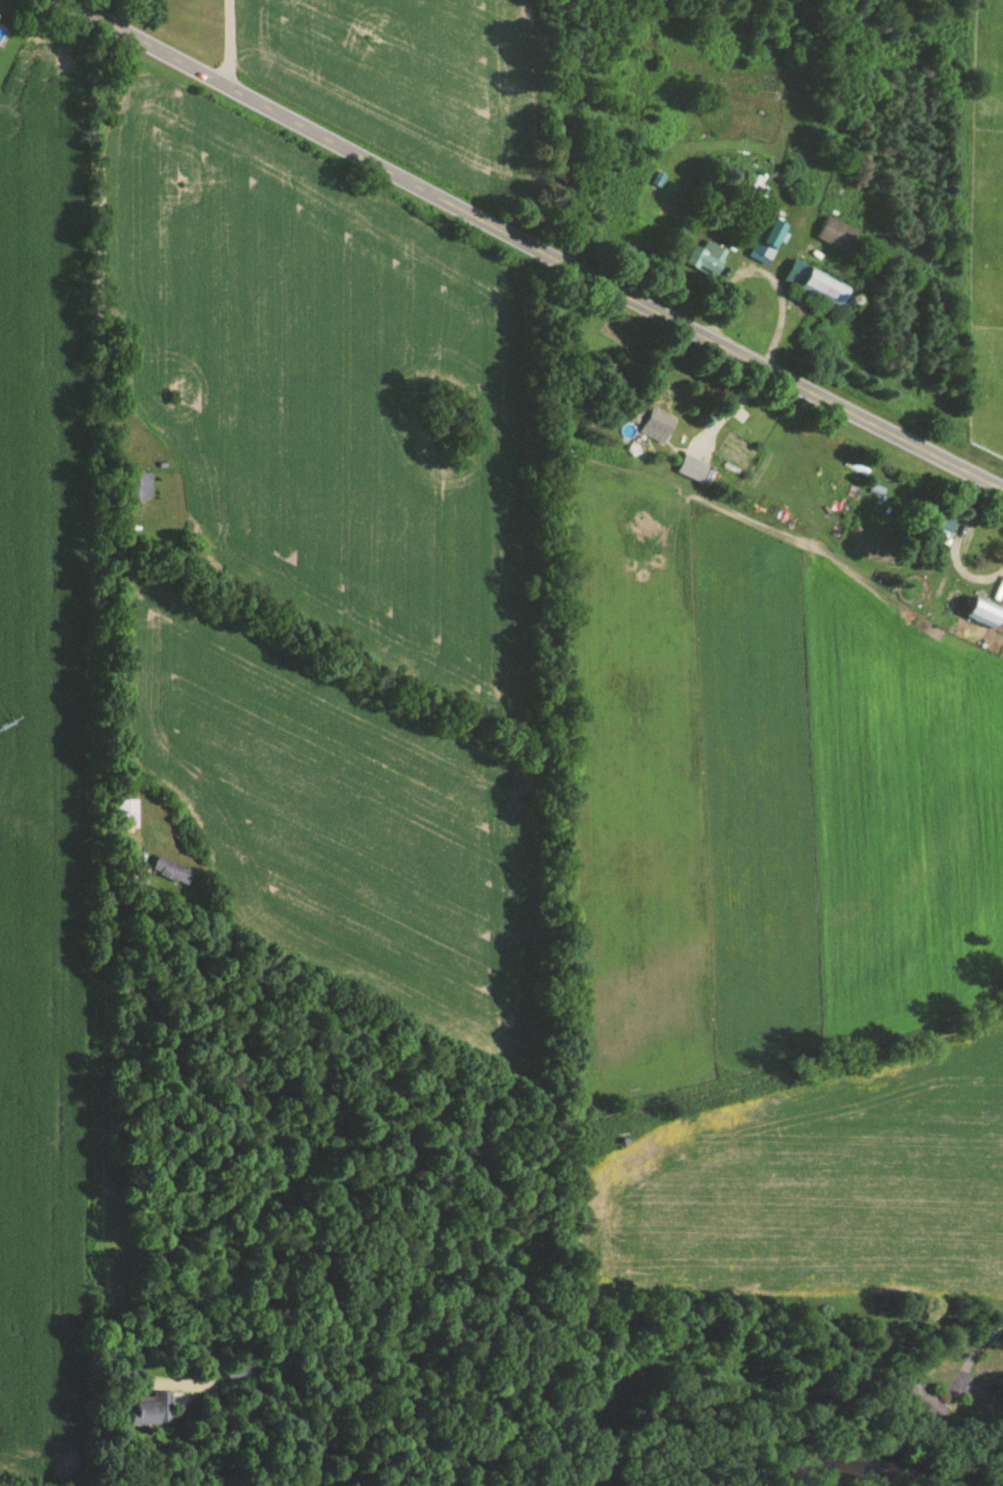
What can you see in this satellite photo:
road: (197, 35)
building: (770, 235)
building: (835, 236)
road: (532, 245)
building: (704, 260)
building: (821, 289)
building: (631, 416)
building: (654, 428)
building: (691, 470)
building: (137, 488)
building: (938, 528)
building: (981, 614)
building: (123, 815)
building: (169, 872)
road: (949, 1394)
building: (922, 1405)
building: (148, 1411)
building: (245, 1413)
river: (832, 1481)

